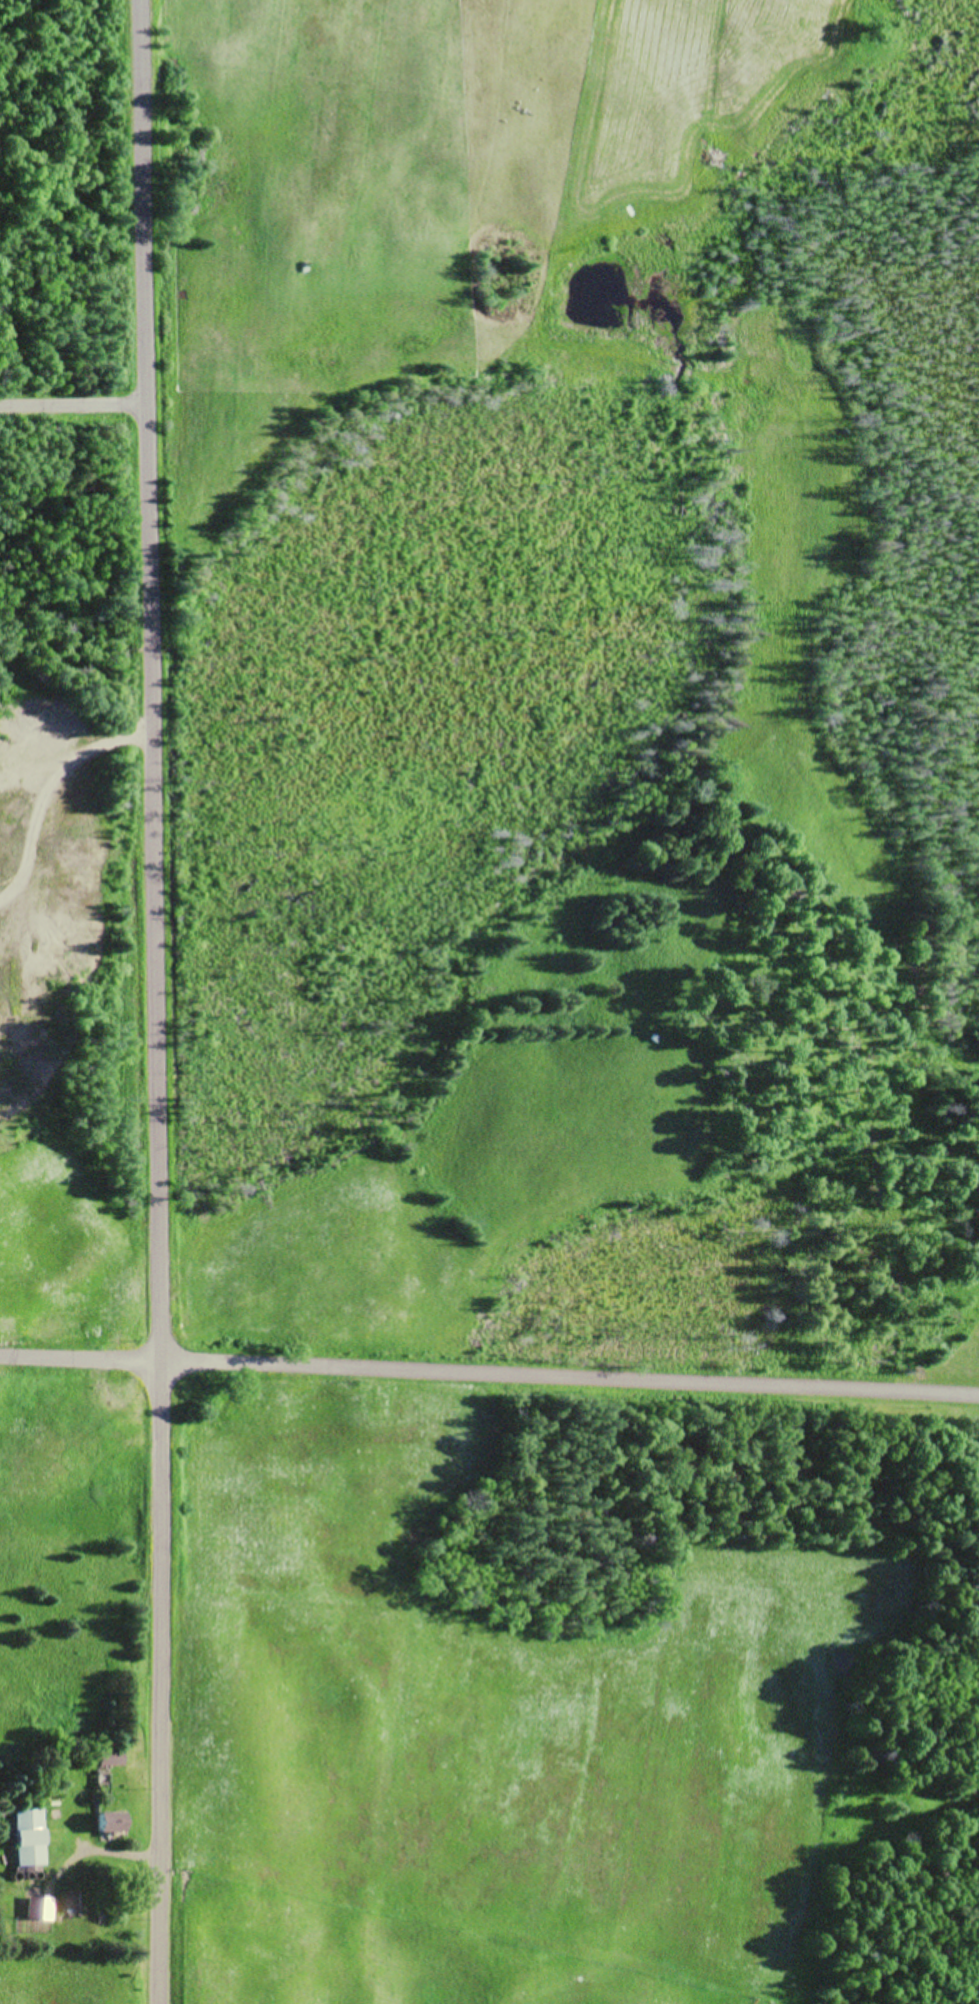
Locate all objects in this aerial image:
road: (78, 404)
road: (157, 1001)
road: (82, 1359)
road: (572, 1377)
building: (108, 1762)
building: (111, 1825)
building: (30, 1840)
building: (74, 1905)

